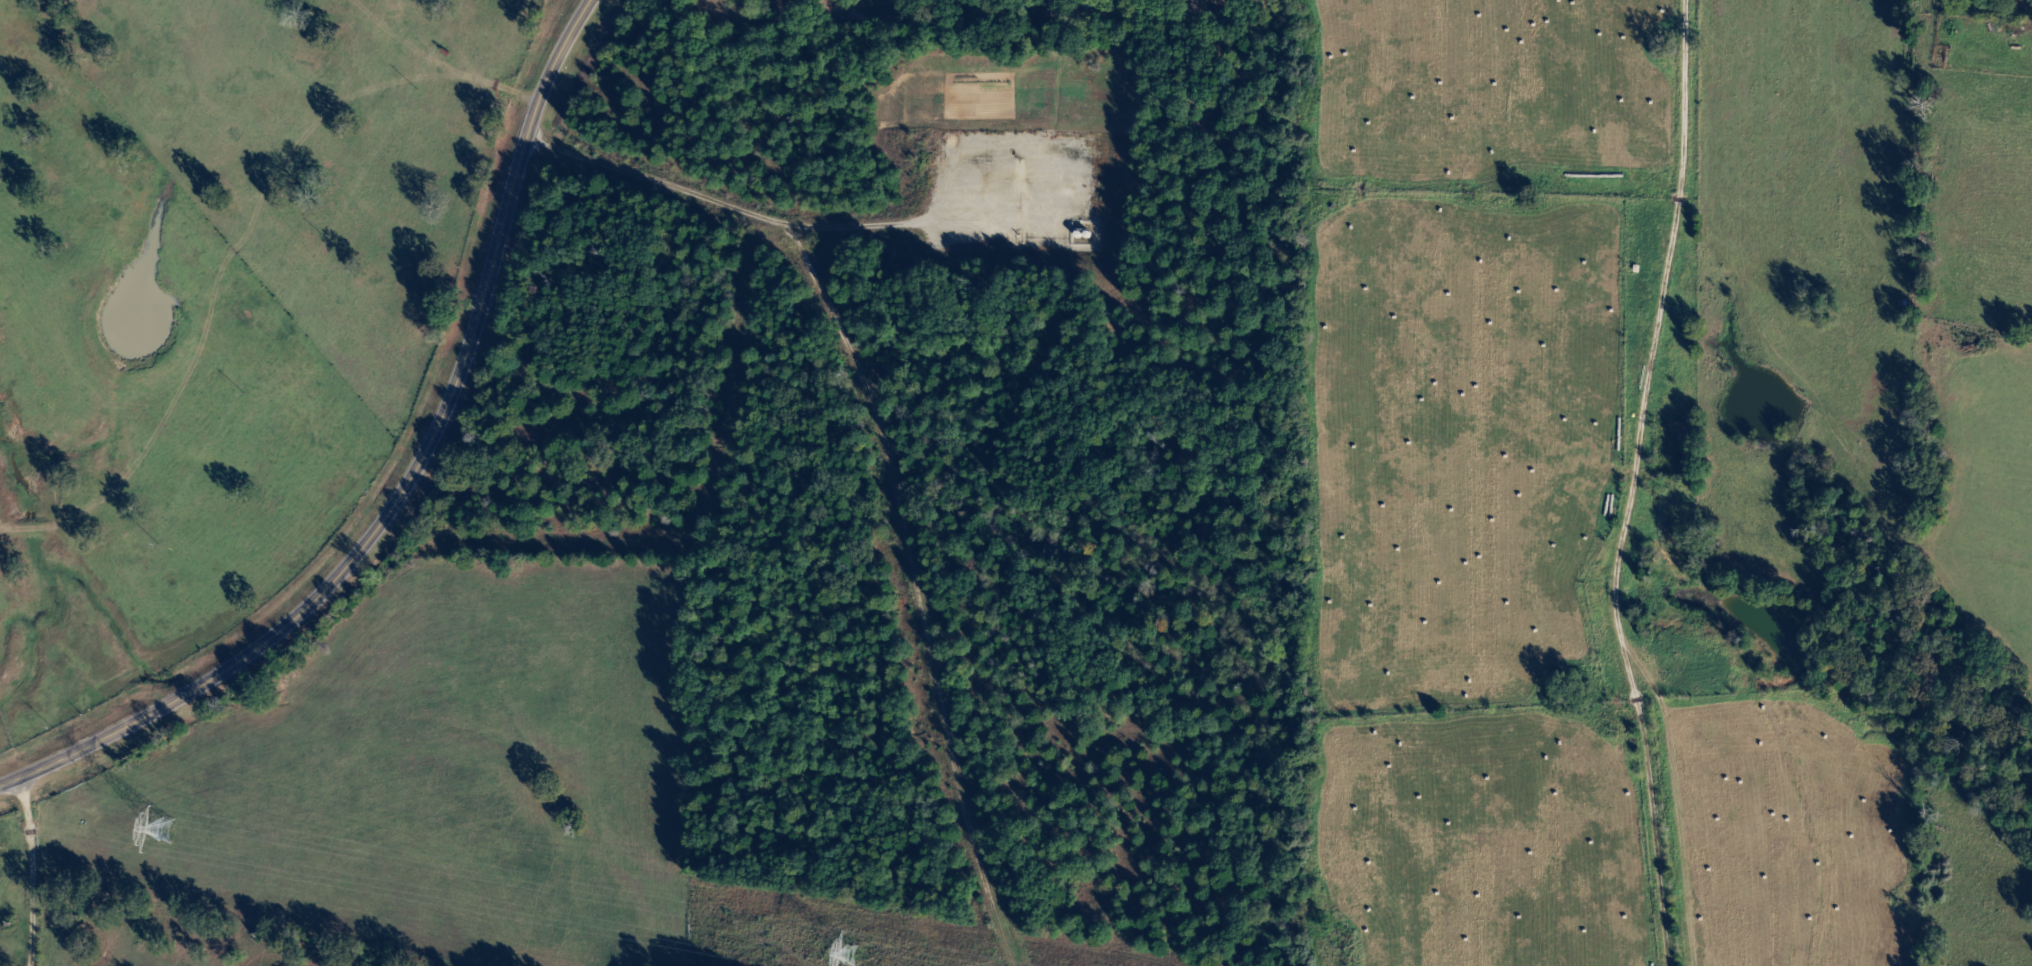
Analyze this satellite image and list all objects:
road: (406, 480)
road: (1626, 490)
power tower: (147, 825)
power tower: (853, 953)

